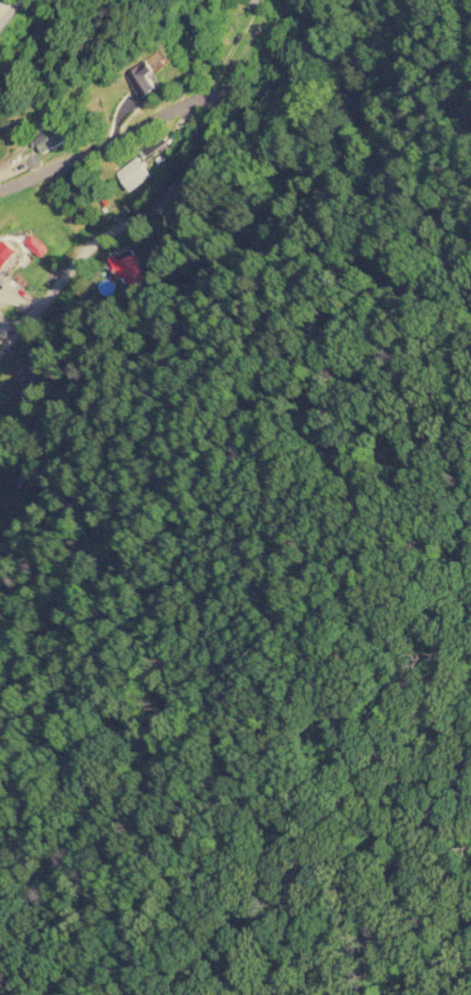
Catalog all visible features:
building: (256, 1)
building: (141, 78)
road: (175, 110)
building: (53, 136)
building: (134, 173)
road: (174, 192)
building: (6, 251)
building: (130, 268)
building: (27, 381)

